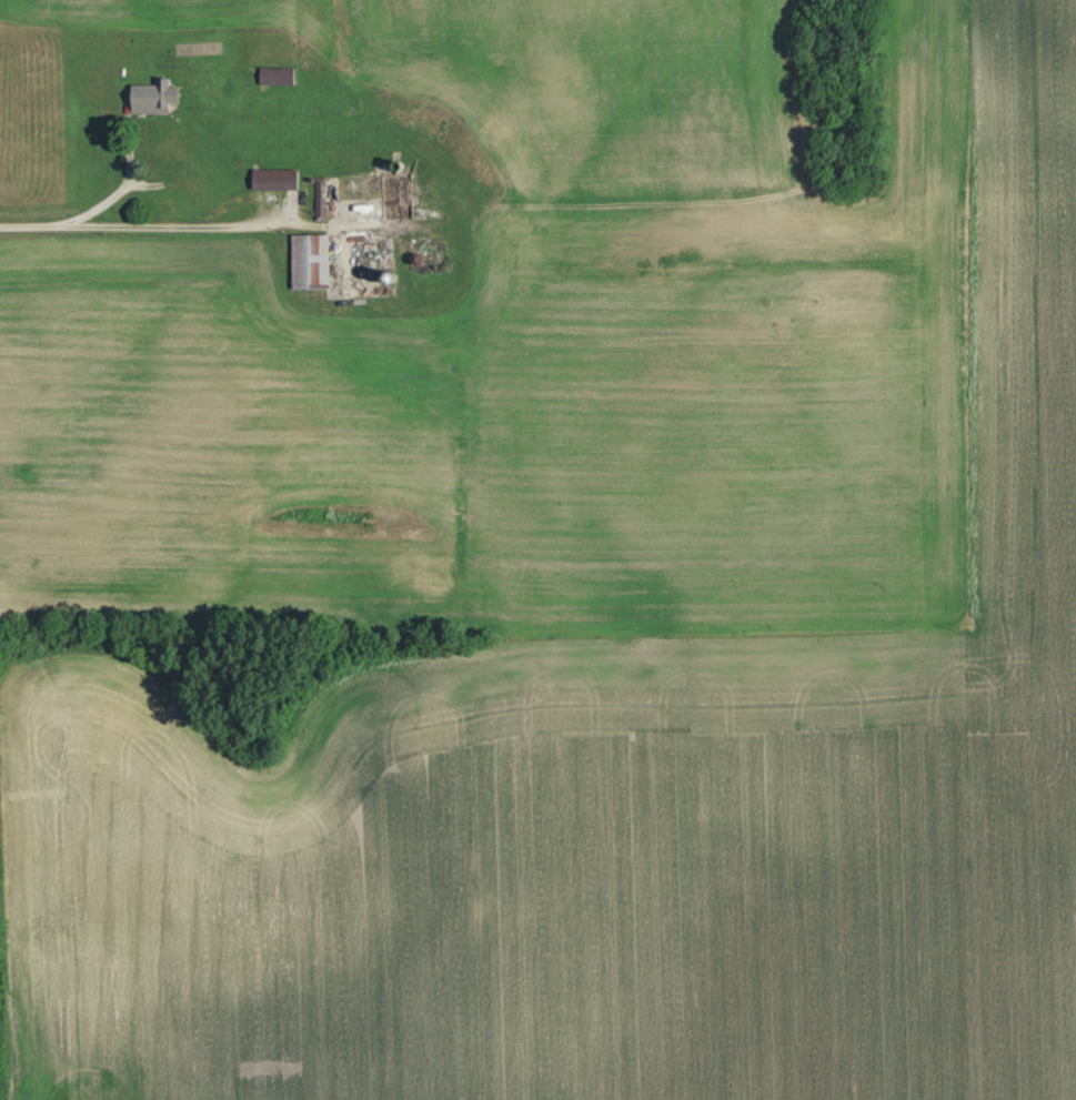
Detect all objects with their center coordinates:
building: (275, 75)
building: (150, 97)
building: (274, 179)
building: (319, 198)
road: (171, 226)
building: (310, 261)

